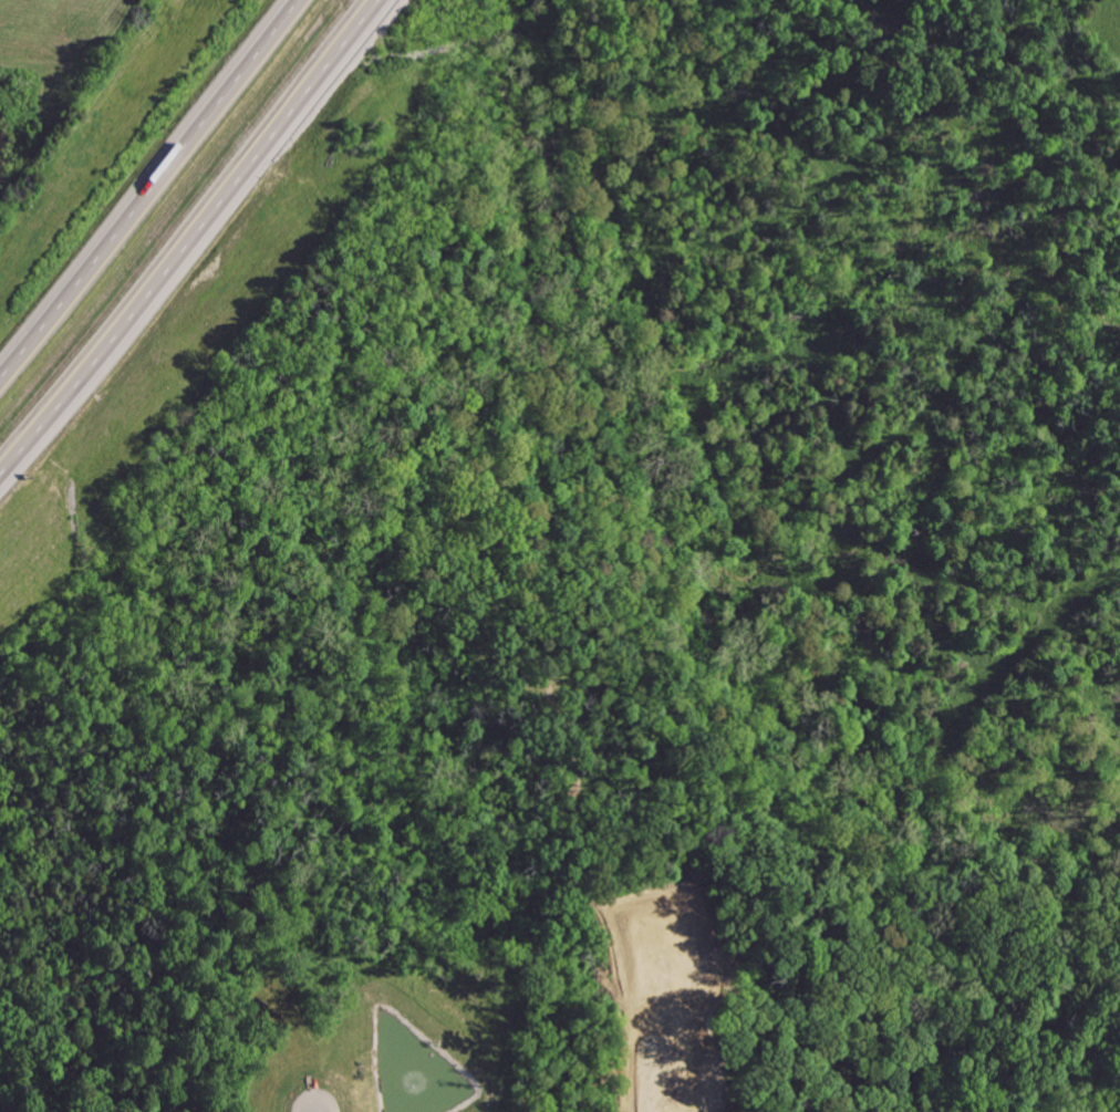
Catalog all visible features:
road: (155, 195)
road: (194, 238)

